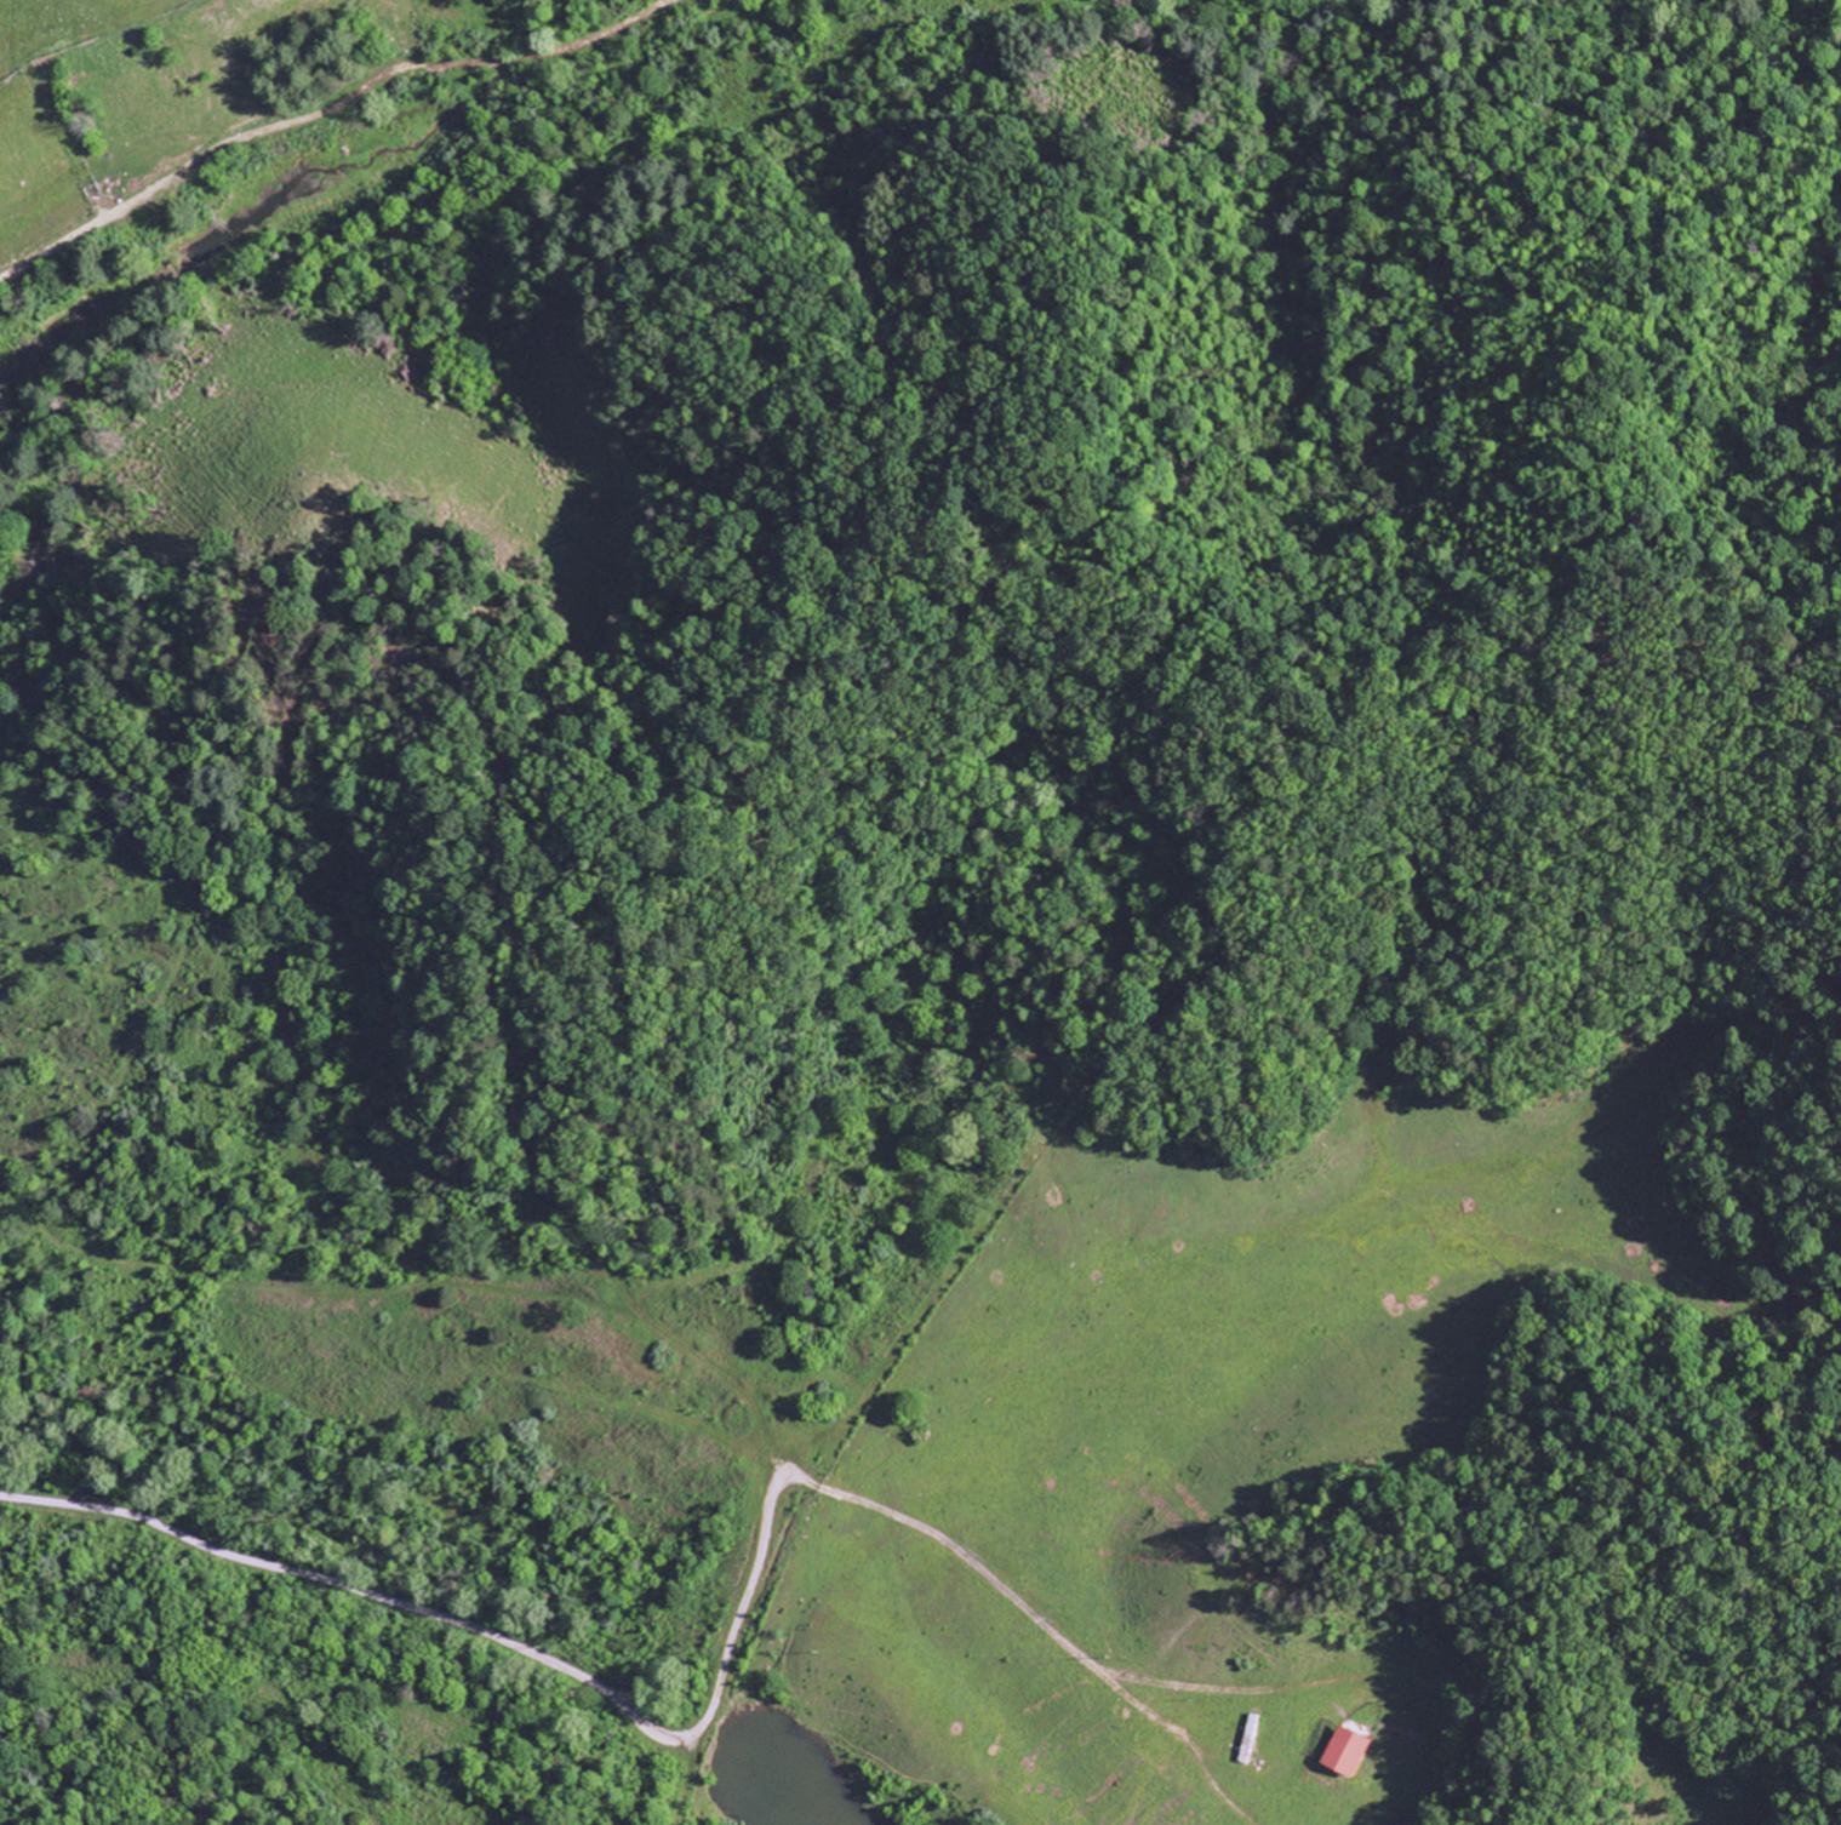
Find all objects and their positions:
building: (1347, 1754)

